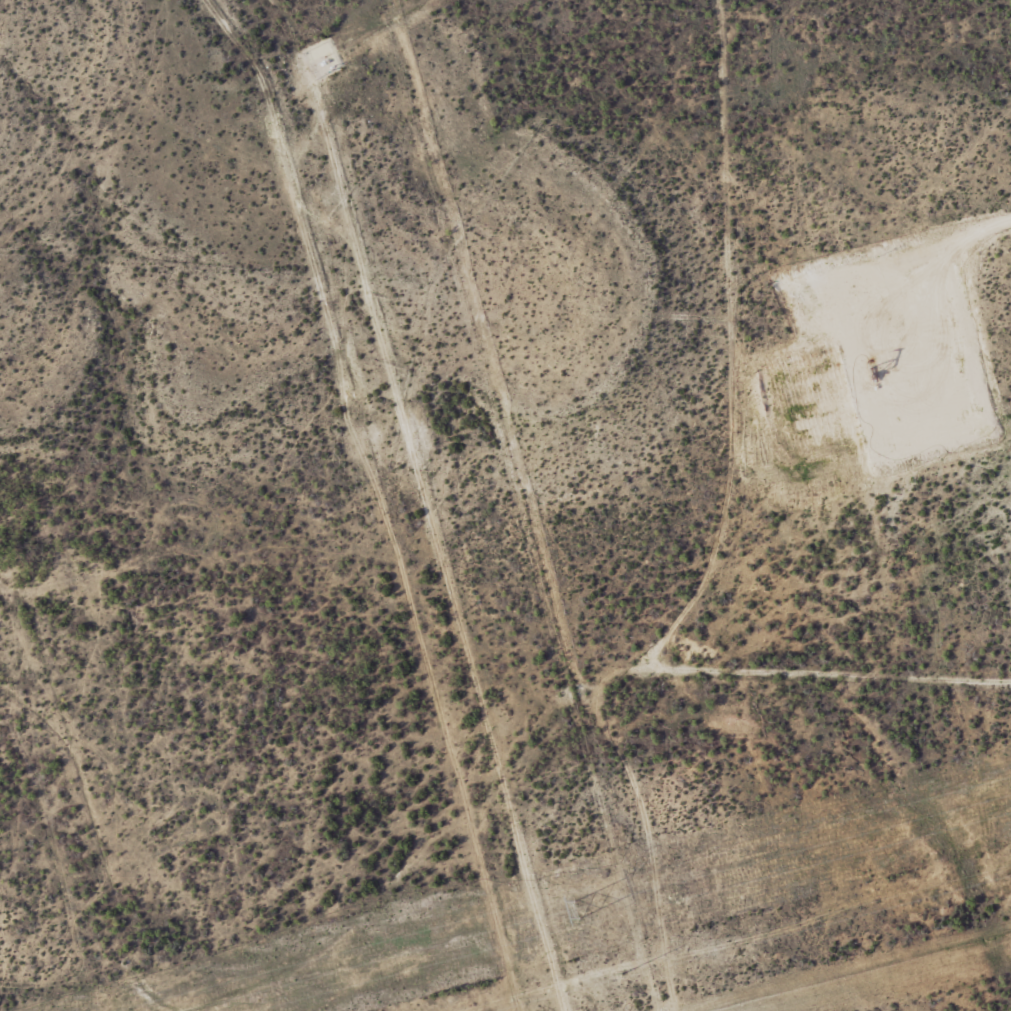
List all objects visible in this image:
power tower: (579, 912)
power tower: (622, 974)

